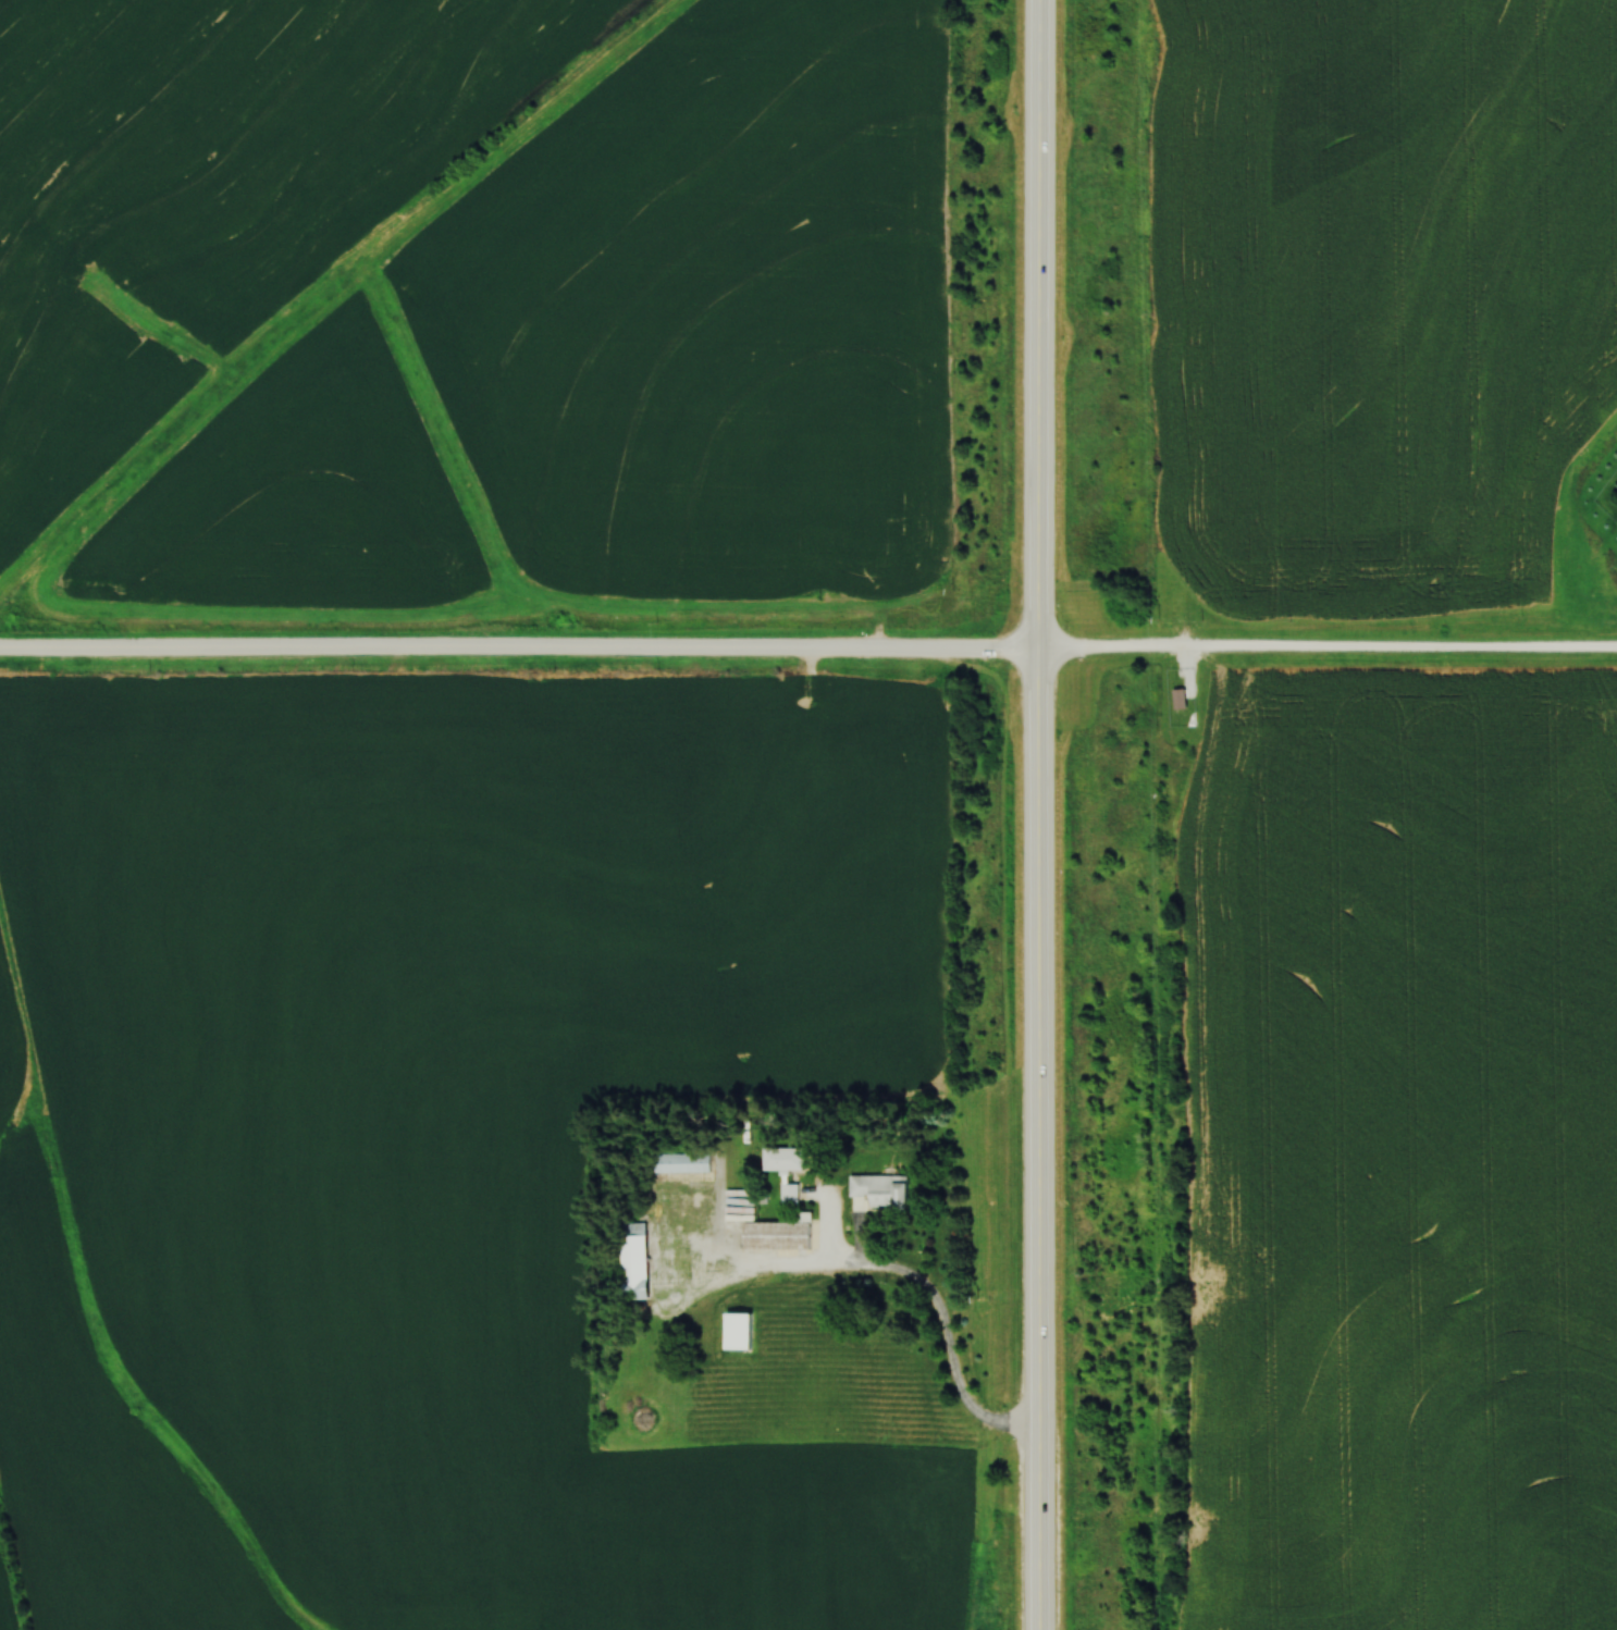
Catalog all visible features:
airport runway: (345, 292)
road: (1328, 650)
road: (520, 651)
building: (1181, 701)
road: (1040, 815)
building: (792, 1160)
building: (684, 1163)
building: (881, 1194)
building: (781, 1235)
building: (639, 1267)
road: (934, 1299)
building: (742, 1332)

